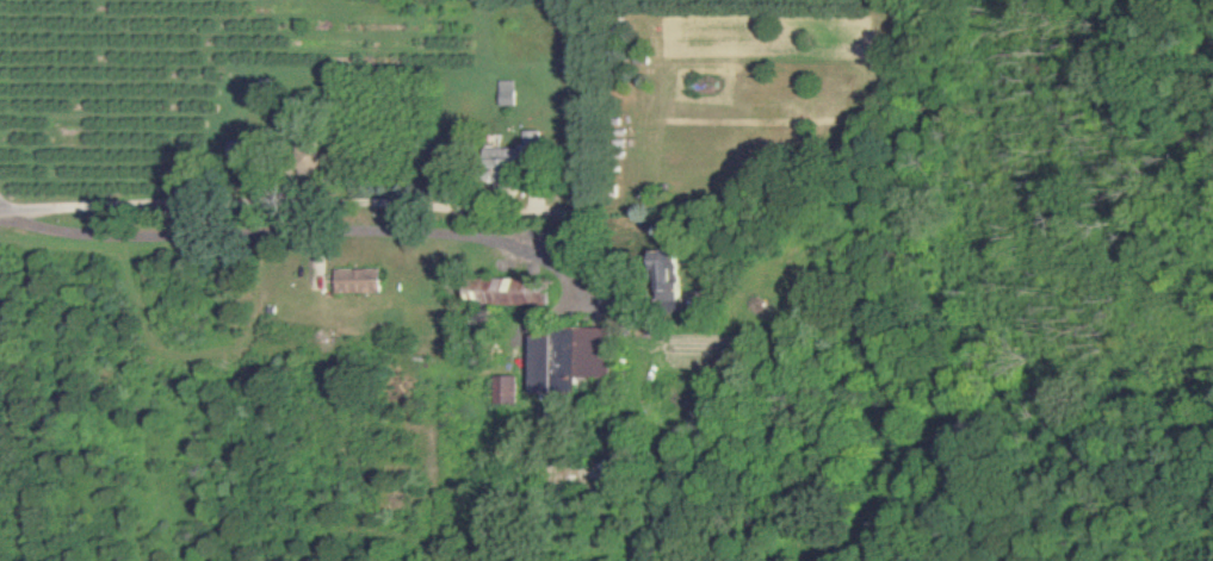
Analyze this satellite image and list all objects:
building: (507, 93)
building: (532, 142)
road: (277, 222)
building: (358, 281)
building: (510, 292)
building: (567, 360)
building: (505, 391)

